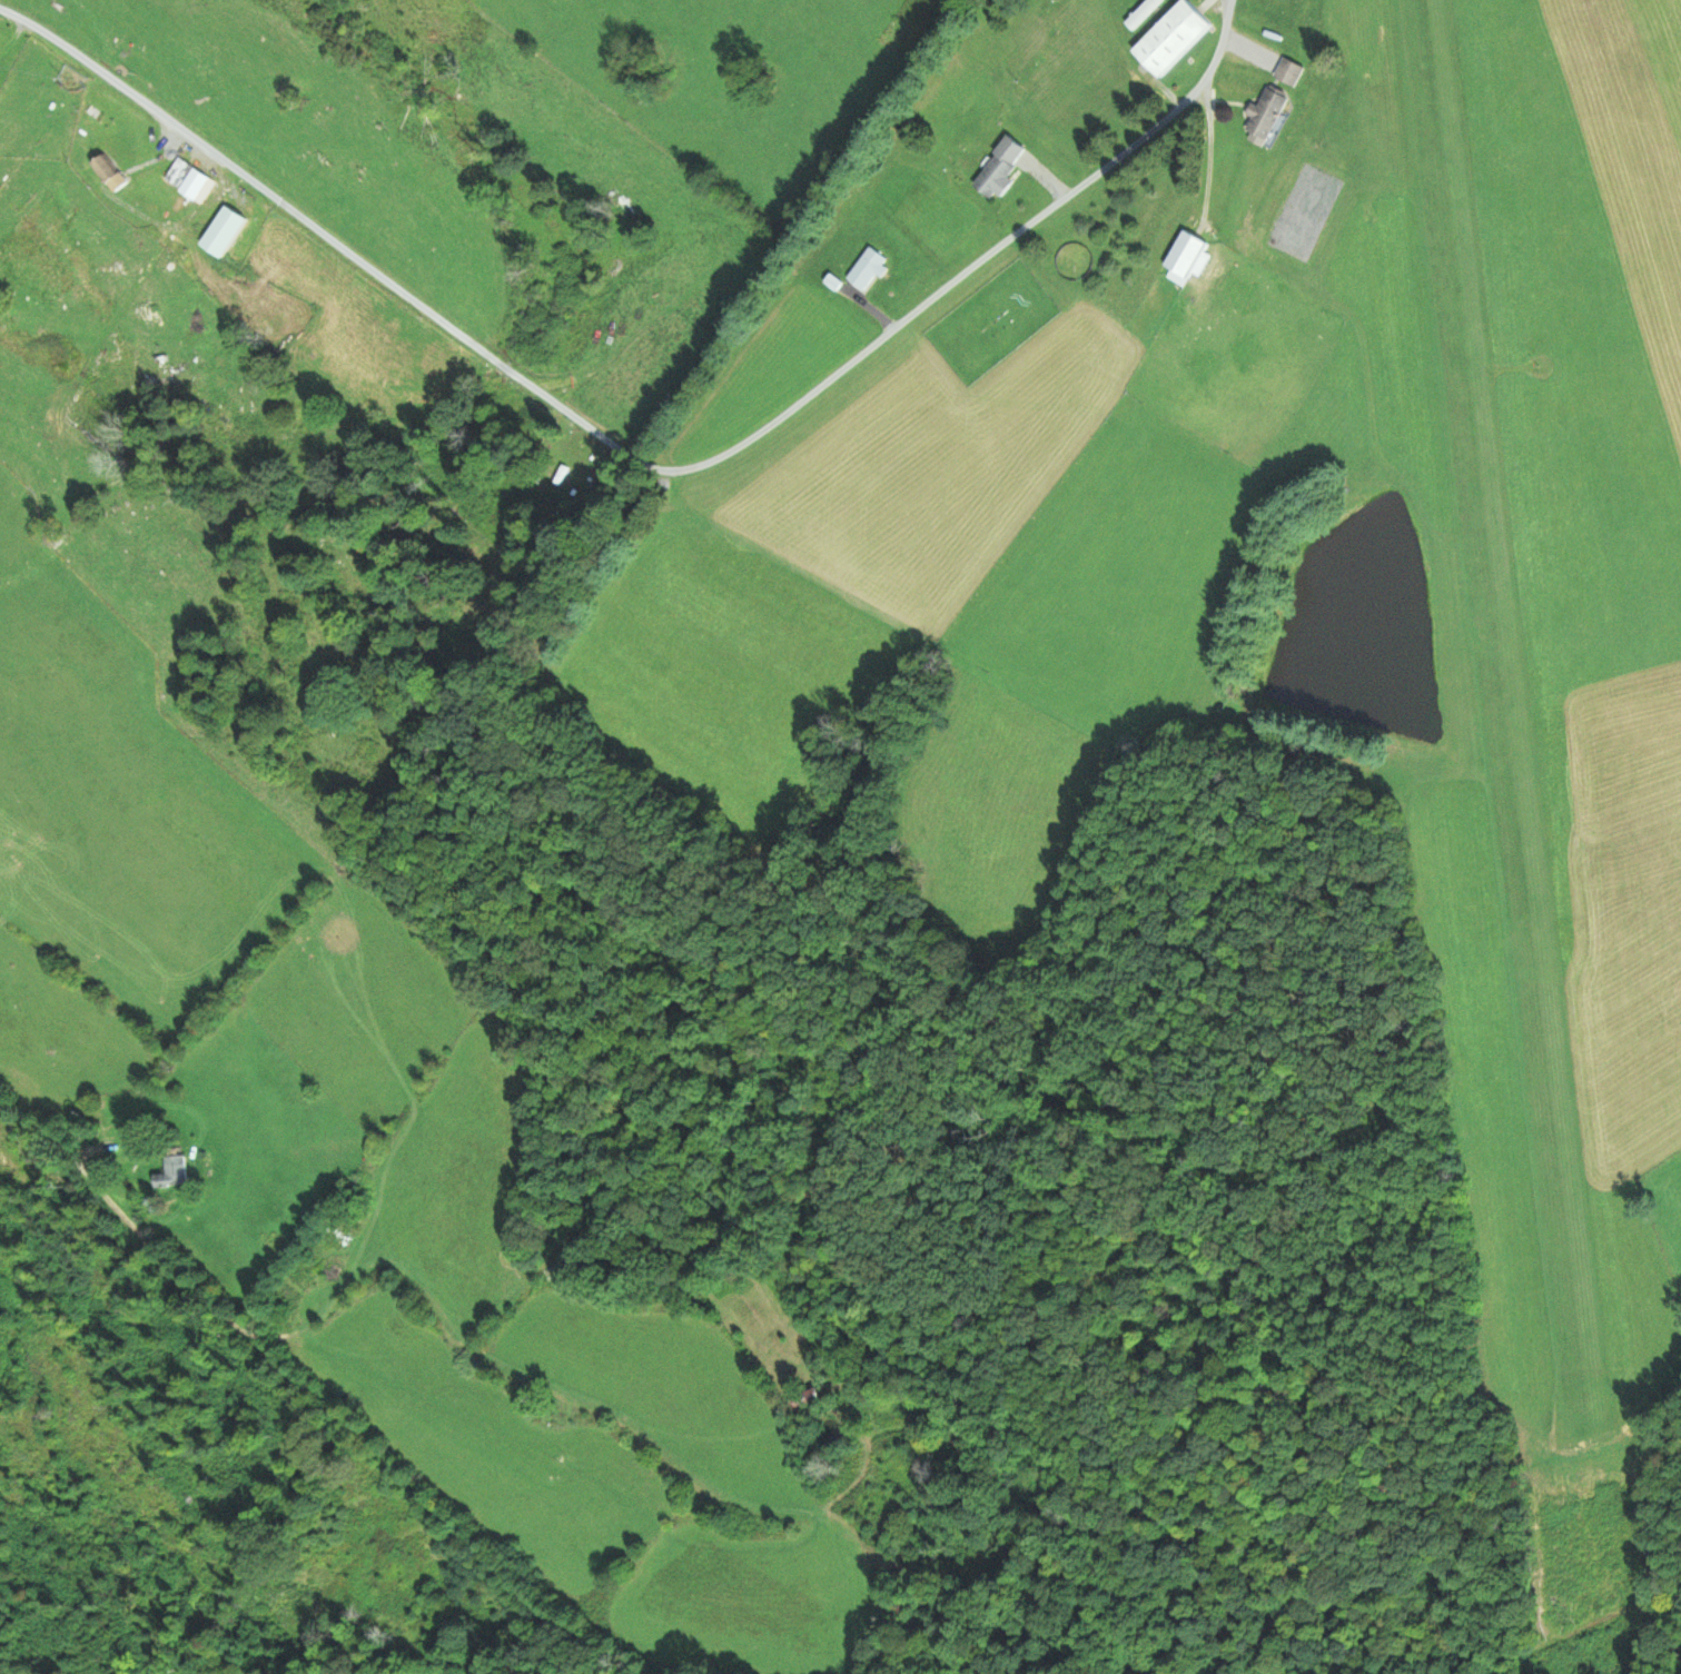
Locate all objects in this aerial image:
building: (1171, 39)
building: (1287, 72)
building: (1265, 115)
building: (105, 172)
building: (185, 180)
building: (1185, 258)
building: (866, 269)
road: (636, 462)
airport runway: (1502, 710)
building: (171, 1173)
road: (111, 1214)
building: (804, 1399)

